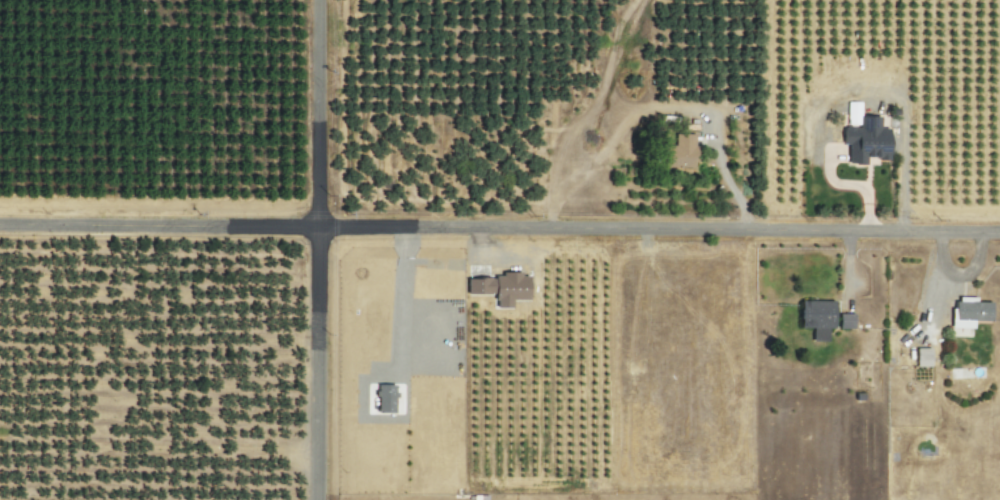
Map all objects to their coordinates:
building: (863, 141)
building: (675, 153)
road: (499, 228)
road: (312, 250)
building: (495, 289)
building: (966, 313)
building: (813, 318)
building: (842, 321)
building: (920, 357)

